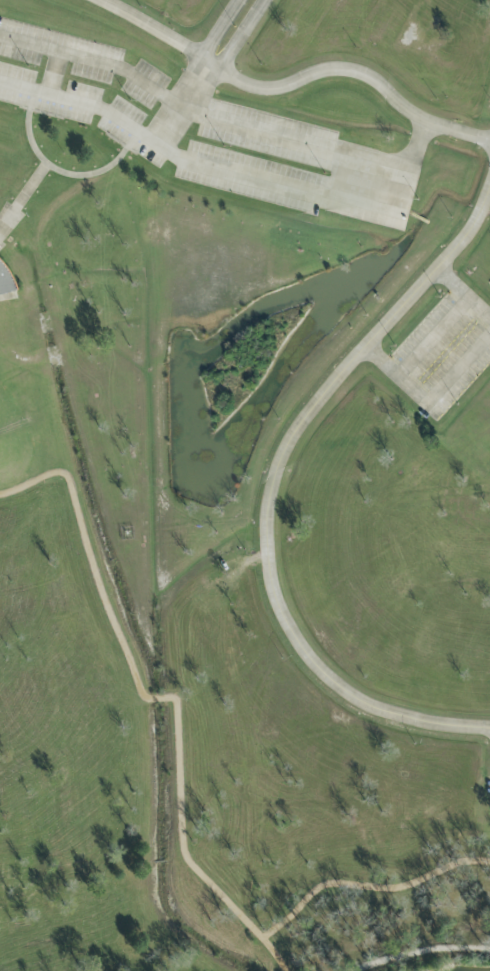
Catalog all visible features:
road: (226, 30)
road: (244, 37)
parking lot: (60, 51)
road: (56, 74)
road: (290, 85)
parking lot: (148, 86)
parking lot: (49, 96)
road: (185, 105)
road: (40, 111)
road: (201, 116)
parking lot: (133, 133)
road: (129, 148)
road: (194, 164)
parking lot: (365, 166)
road: (413, 168)
road: (60, 172)
road: (23, 198)
building: (4, 281)
road: (464, 293)
road: (432, 334)
parking lot: (444, 352)
ski resort: (249, 358)
road: (431, 399)
park: (244, 484)
road: (272, 494)
road: (160, 699)
road: (421, 953)

